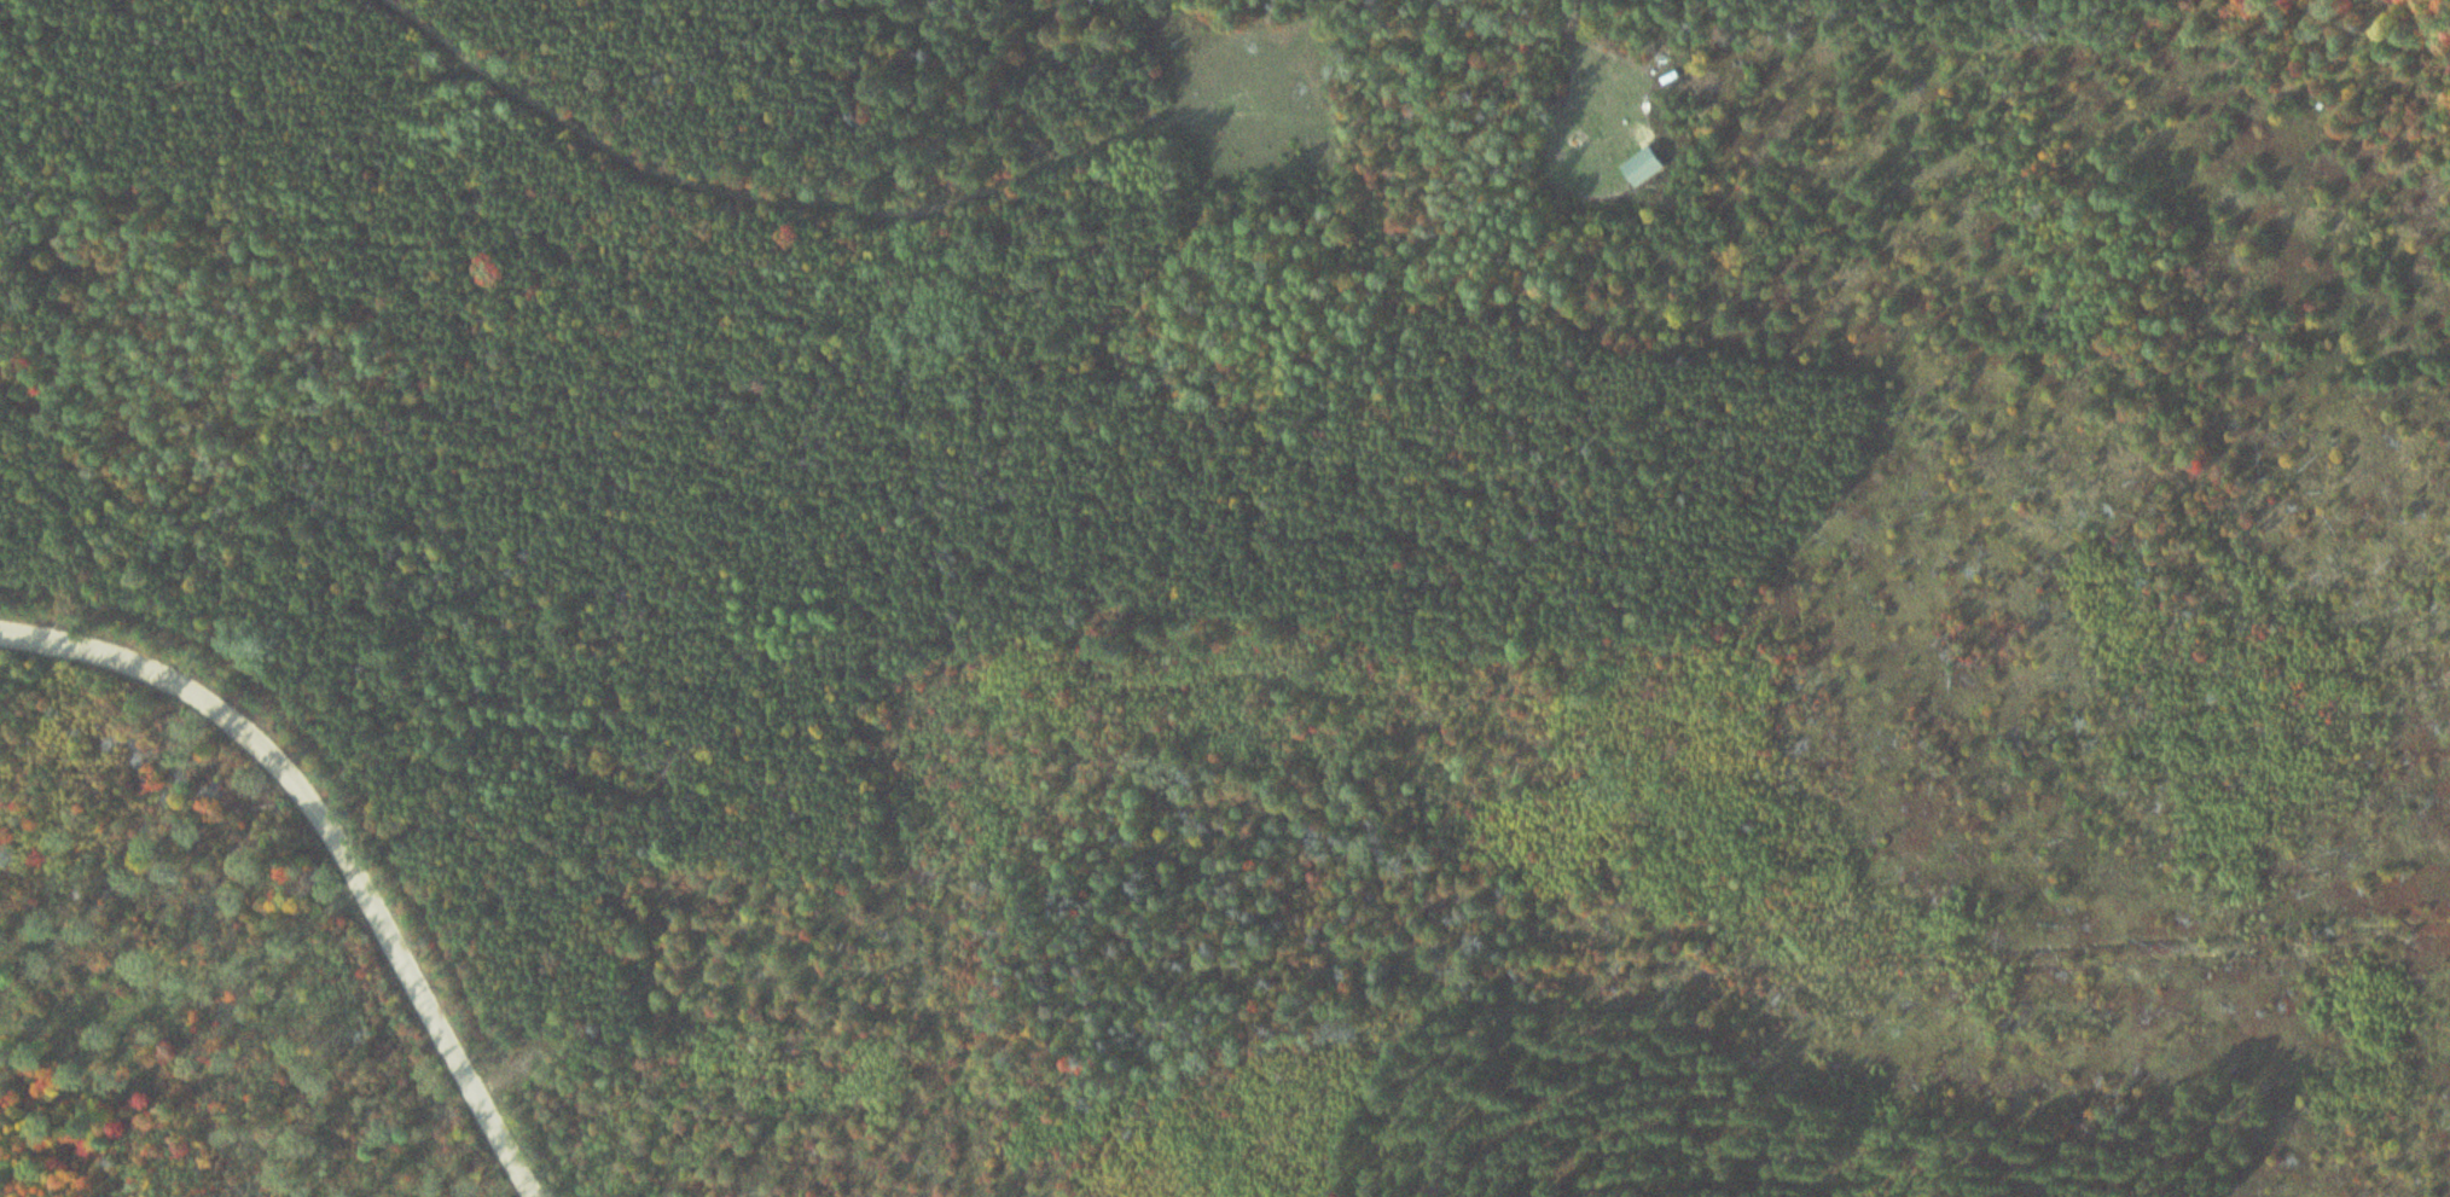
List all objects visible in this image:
road: (1575, 71)
building: (1643, 165)
road: (330, 843)

